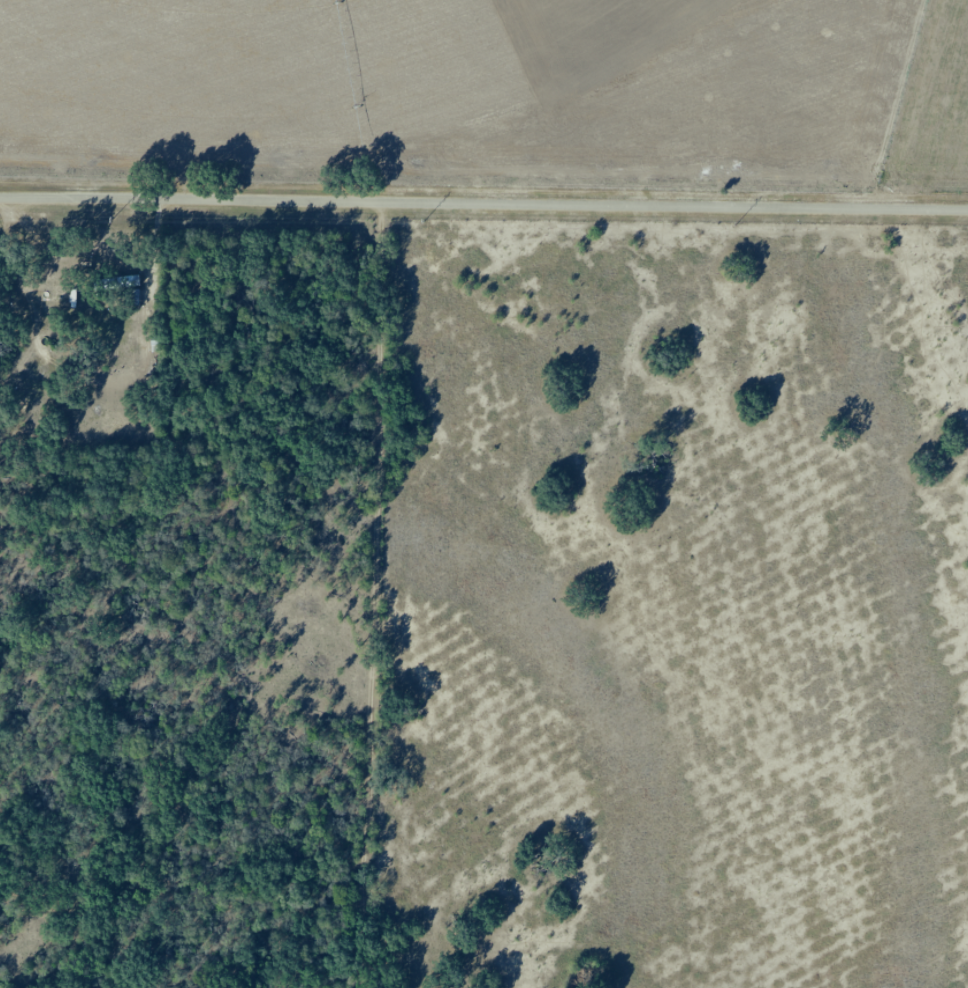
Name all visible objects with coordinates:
road: (484, 202)
power tower: (114, 218)
power tower: (426, 221)
power tower: (737, 224)

